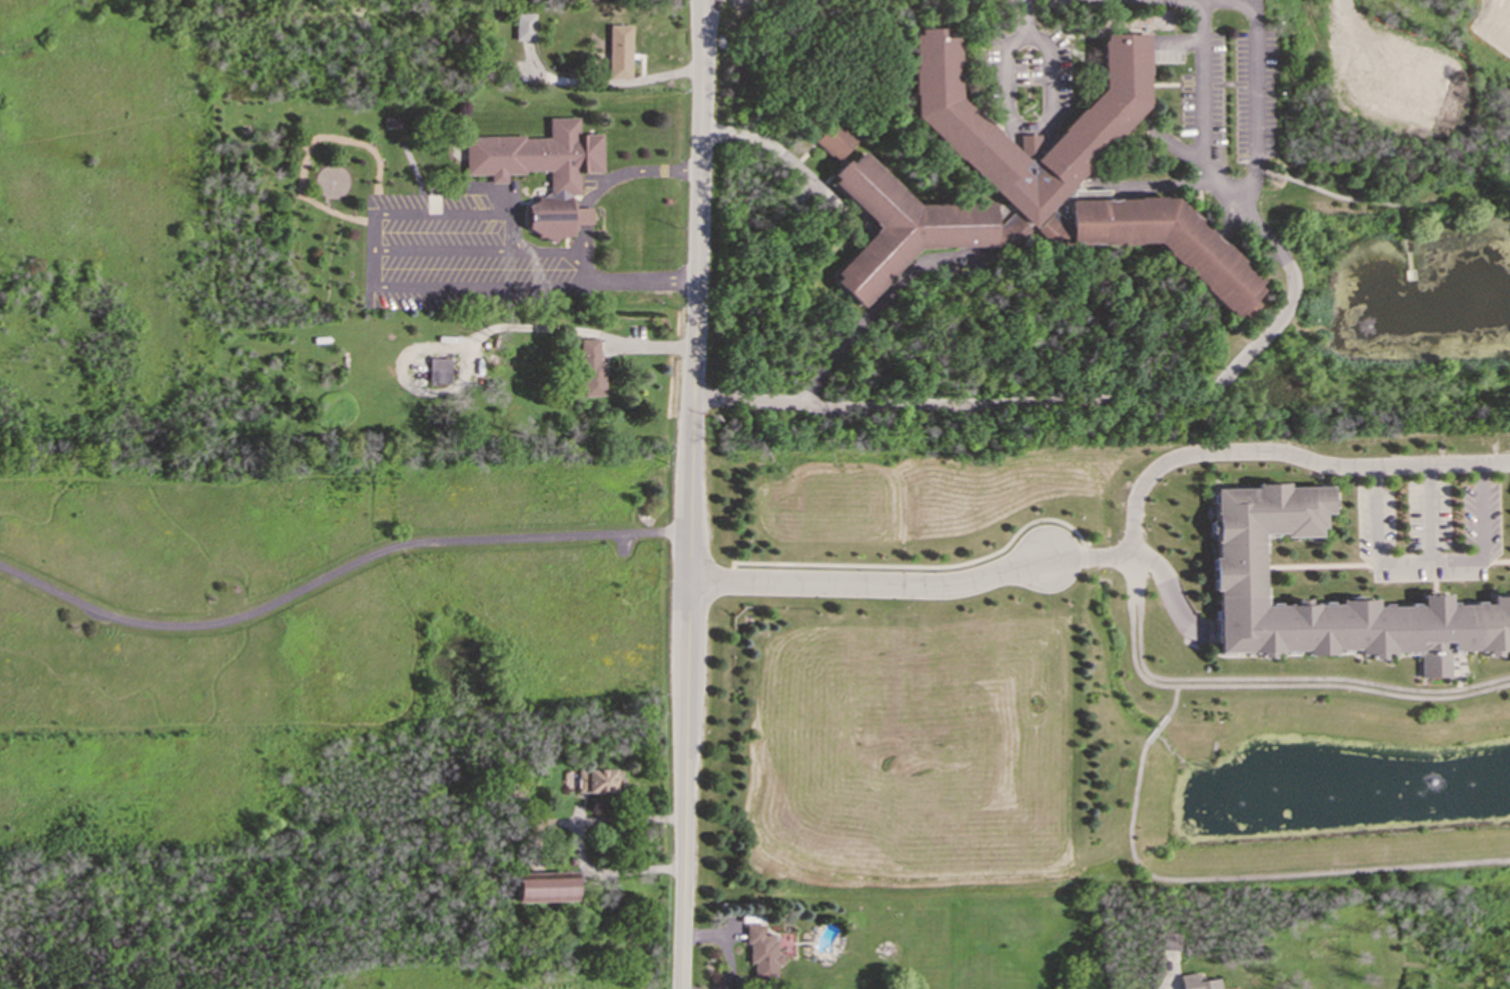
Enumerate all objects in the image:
road: (1021, 16)
building: (524, 26)
building: (618, 51)
road: (606, 81)
road: (1204, 90)
road: (1254, 100)
road: (1030, 122)
building: (955, 125)
building: (834, 141)
road: (768, 145)
building: (542, 170)
road: (626, 170)
road: (1347, 198)
road: (443, 213)
road: (582, 215)
building: (906, 226)
road: (582, 242)
building: (1166, 242)
road: (1409, 263)
road: (371, 273)
road: (629, 280)
road: (574, 329)
building: (591, 368)
building: (438, 369)
road: (1129, 401)
road: (1246, 449)
road: (689, 494)
road: (1428, 511)
road: (1480, 535)
road: (1378, 537)
building: (1238, 567)
road: (336, 570)
road: (1173, 578)
road: (870, 581)
road: (1283, 678)
road: (1259, 685)
road: (1175, 701)
road: (1156, 729)
building: (597, 780)
road: (577, 843)
road: (1259, 875)
building: (543, 886)
building: (760, 952)
building: (1197, 982)

